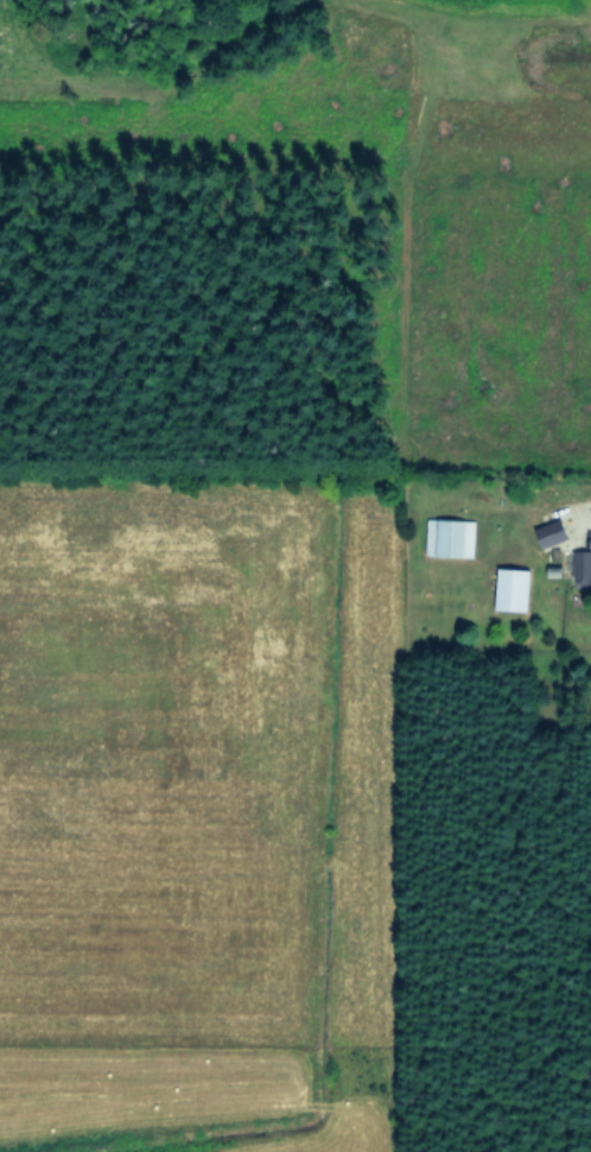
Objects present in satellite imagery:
building: (553, 531)
building: (450, 536)
building: (583, 566)
building: (511, 587)

